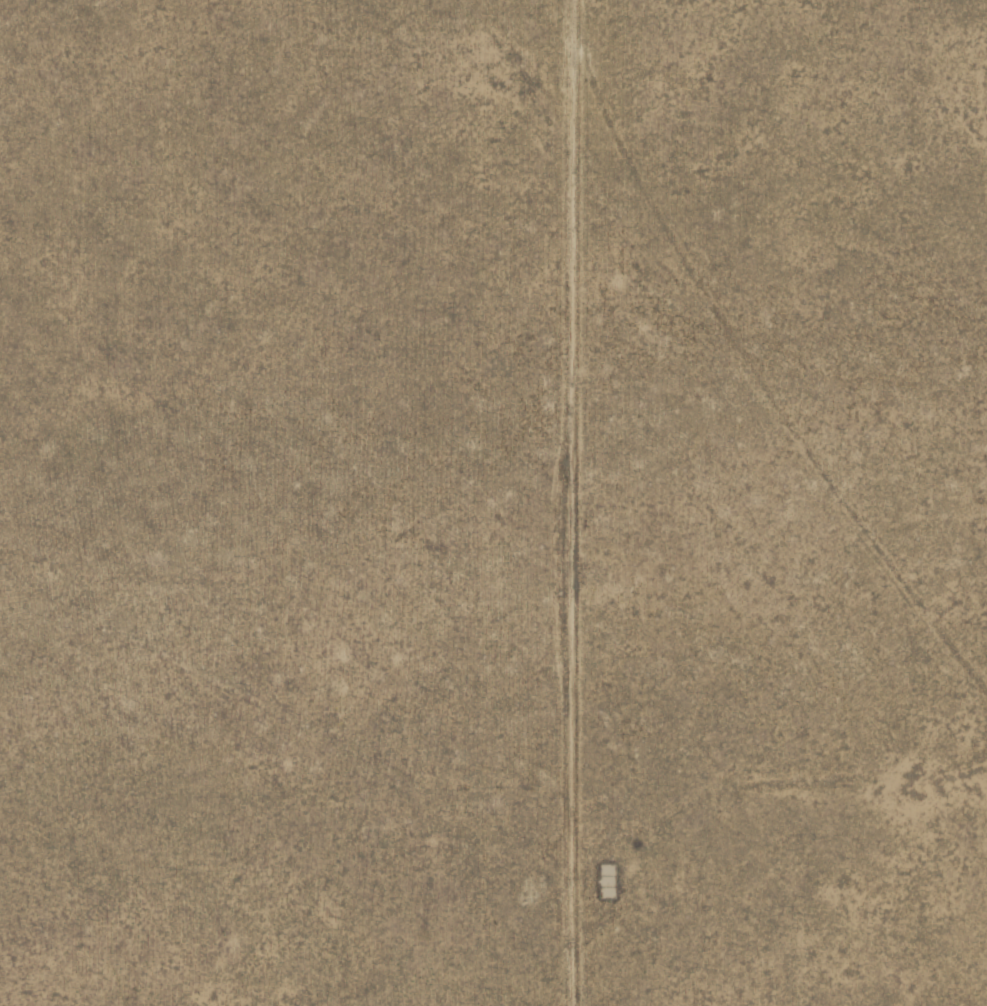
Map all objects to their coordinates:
airport: (776, 503)

